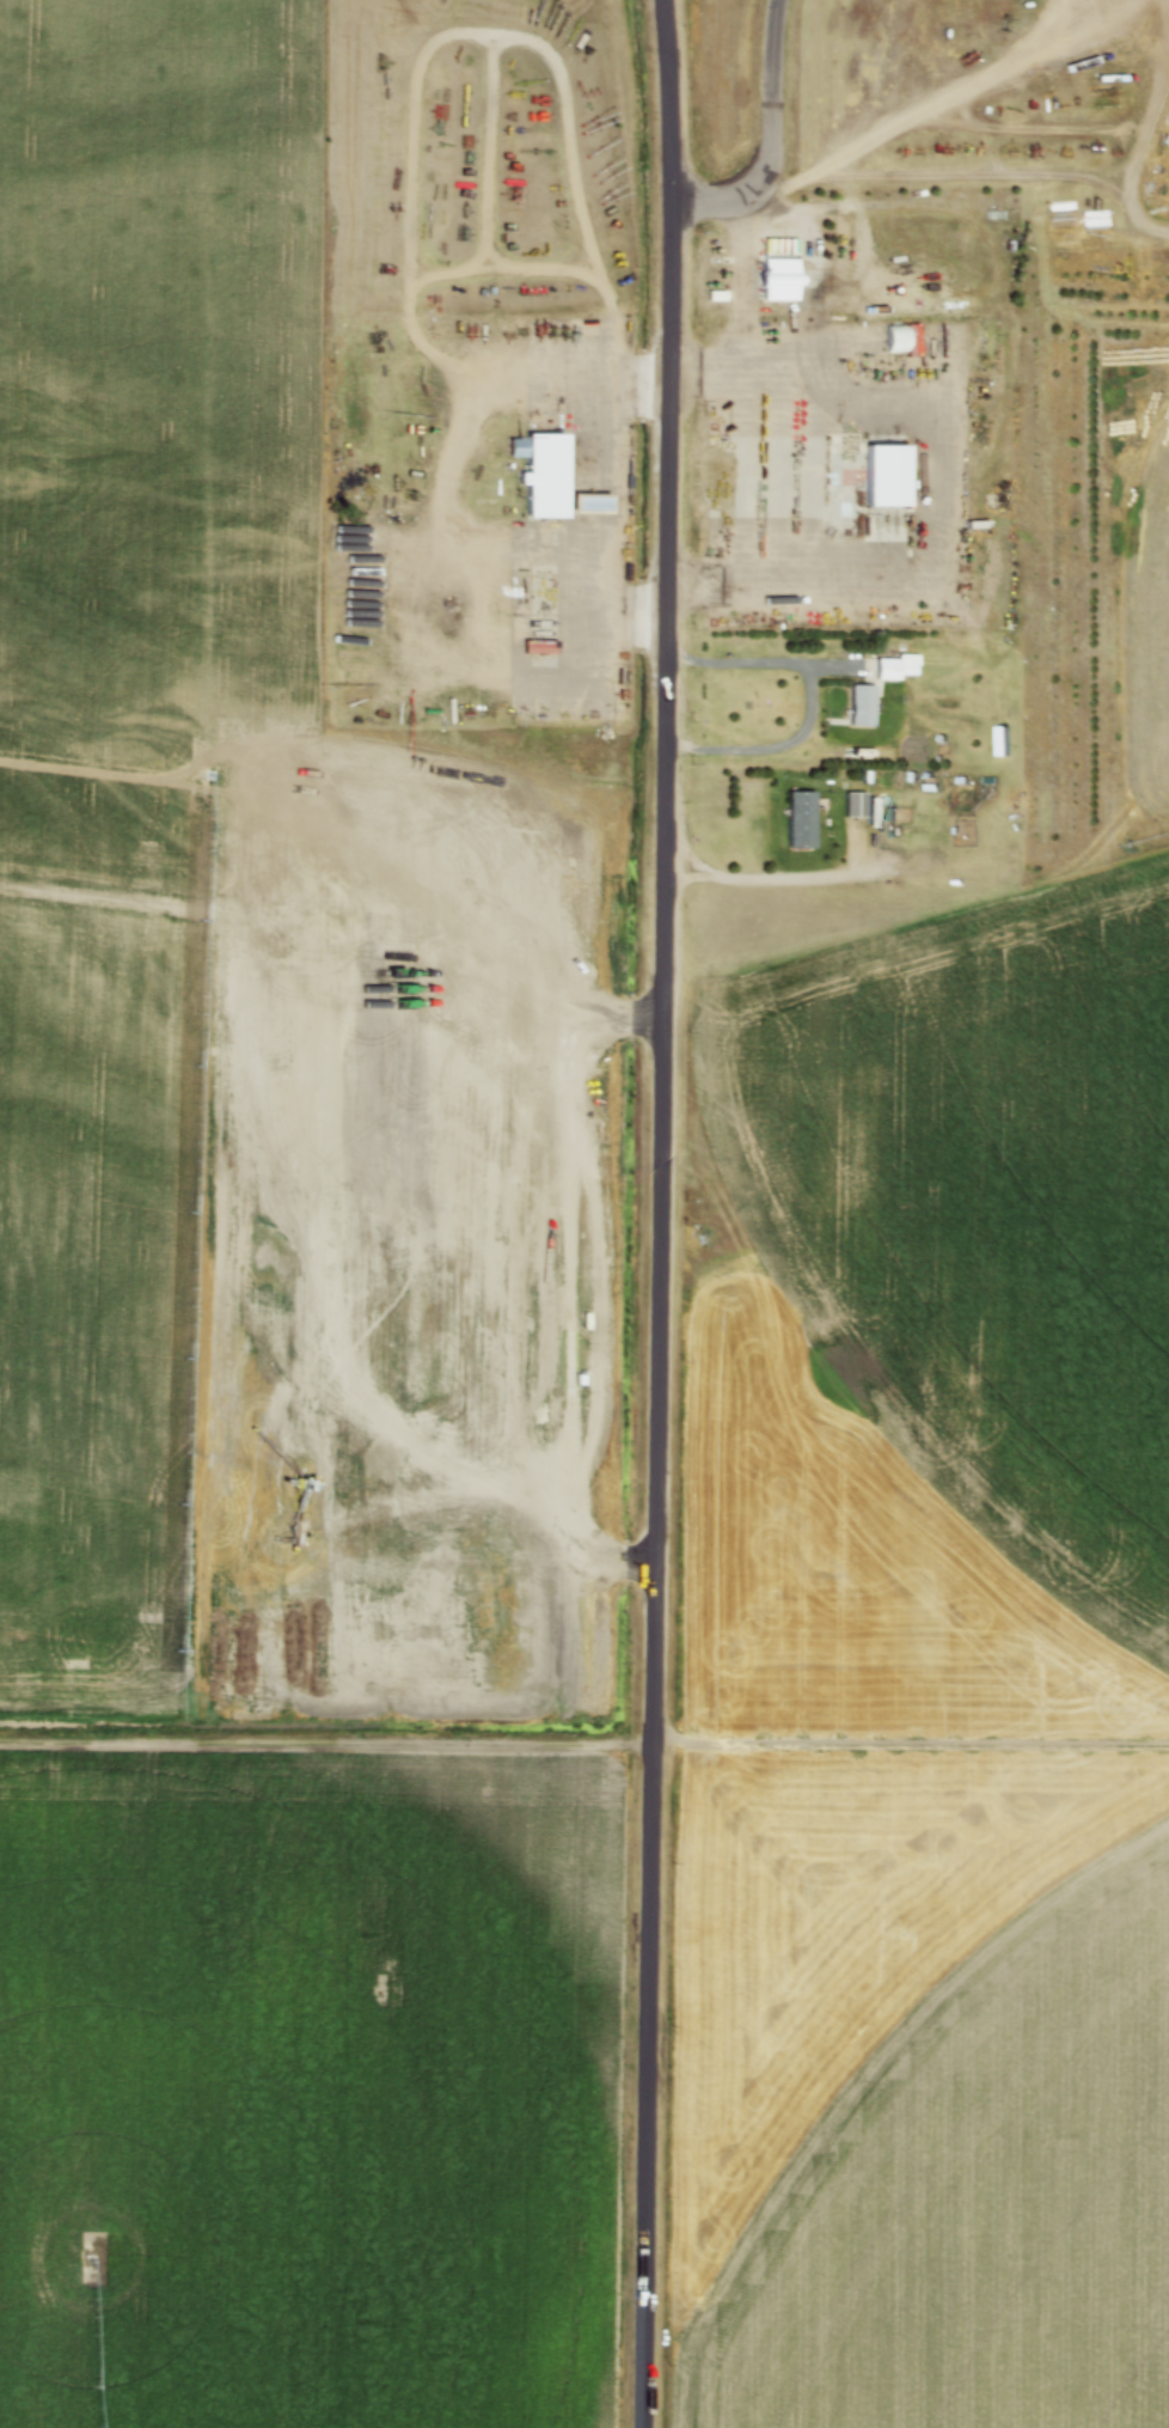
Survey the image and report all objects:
road: (770, 140)
building: (844, 249)
building: (779, 280)
building: (896, 341)
building: (541, 472)
building: (887, 475)
road: (934, 486)
building: (590, 504)
road: (618, 512)
building: (908, 614)
crop: (192, 657)
building: (887, 669)
road: (815, 706)
building: (862, 706)
building: (855, 805)
building: (802, 820)
road: (787, 878)
road: (660, 1213)
crop: (937, 1651)
crop: (307, 2091)

